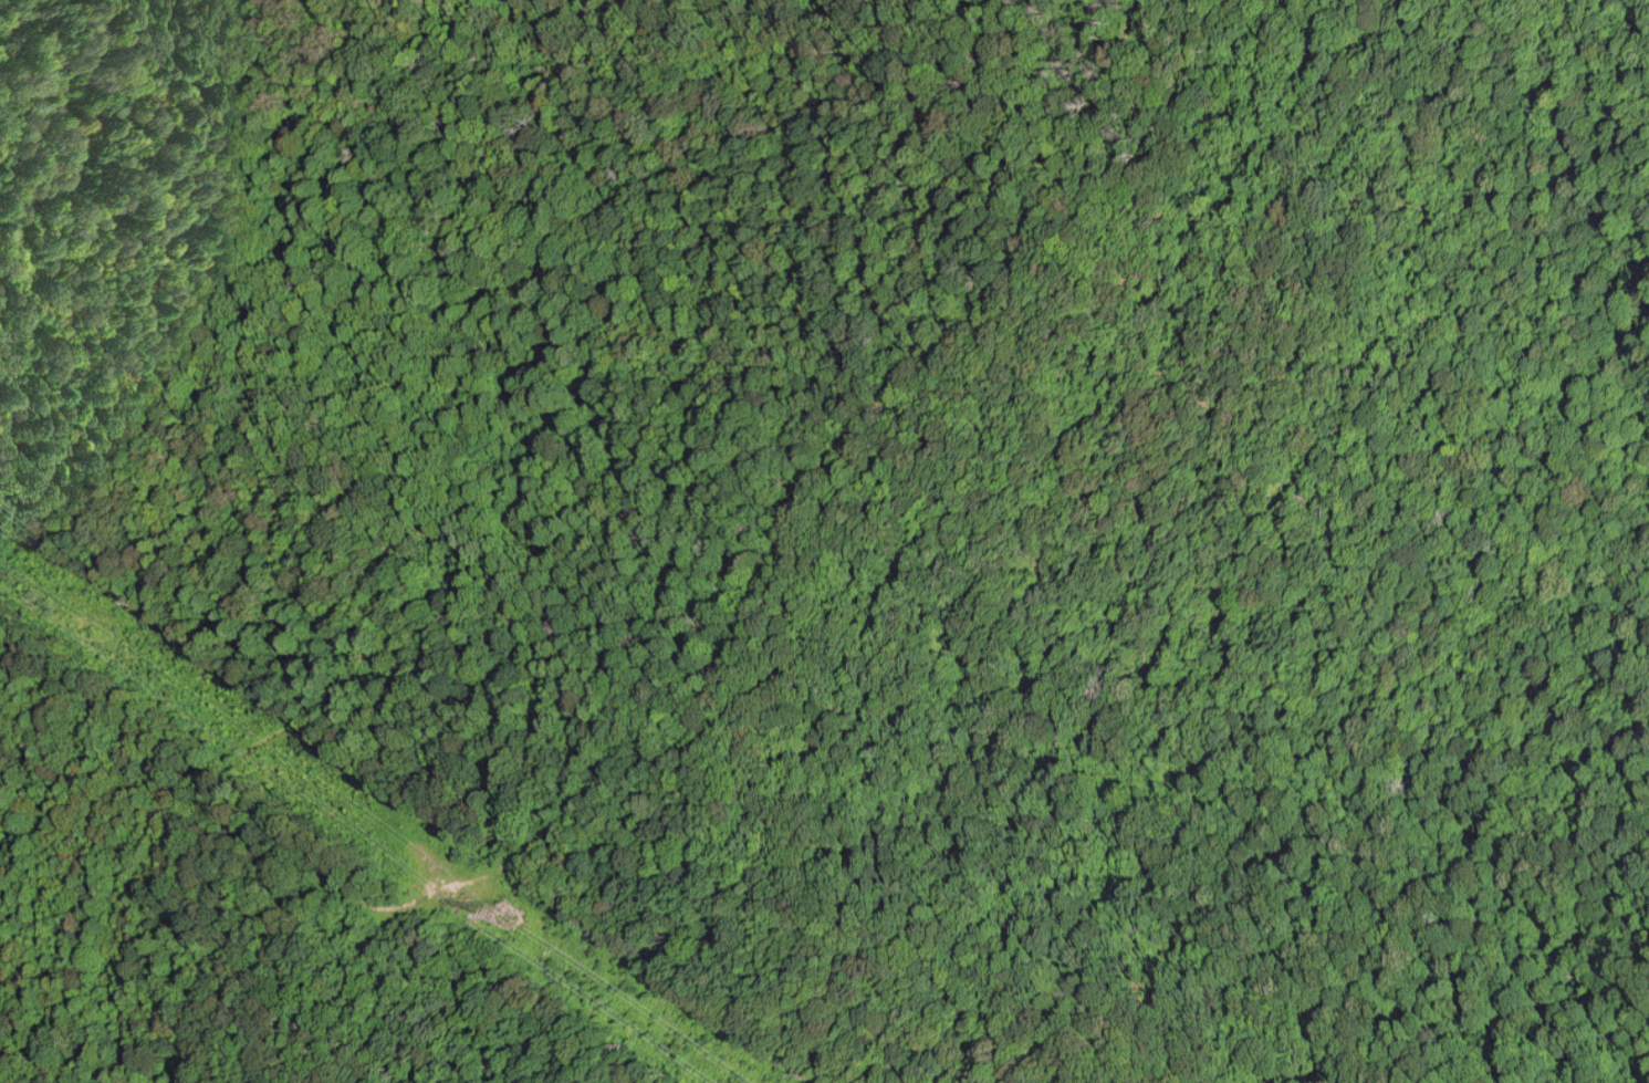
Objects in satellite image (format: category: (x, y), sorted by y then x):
power tower: (499, 909)

